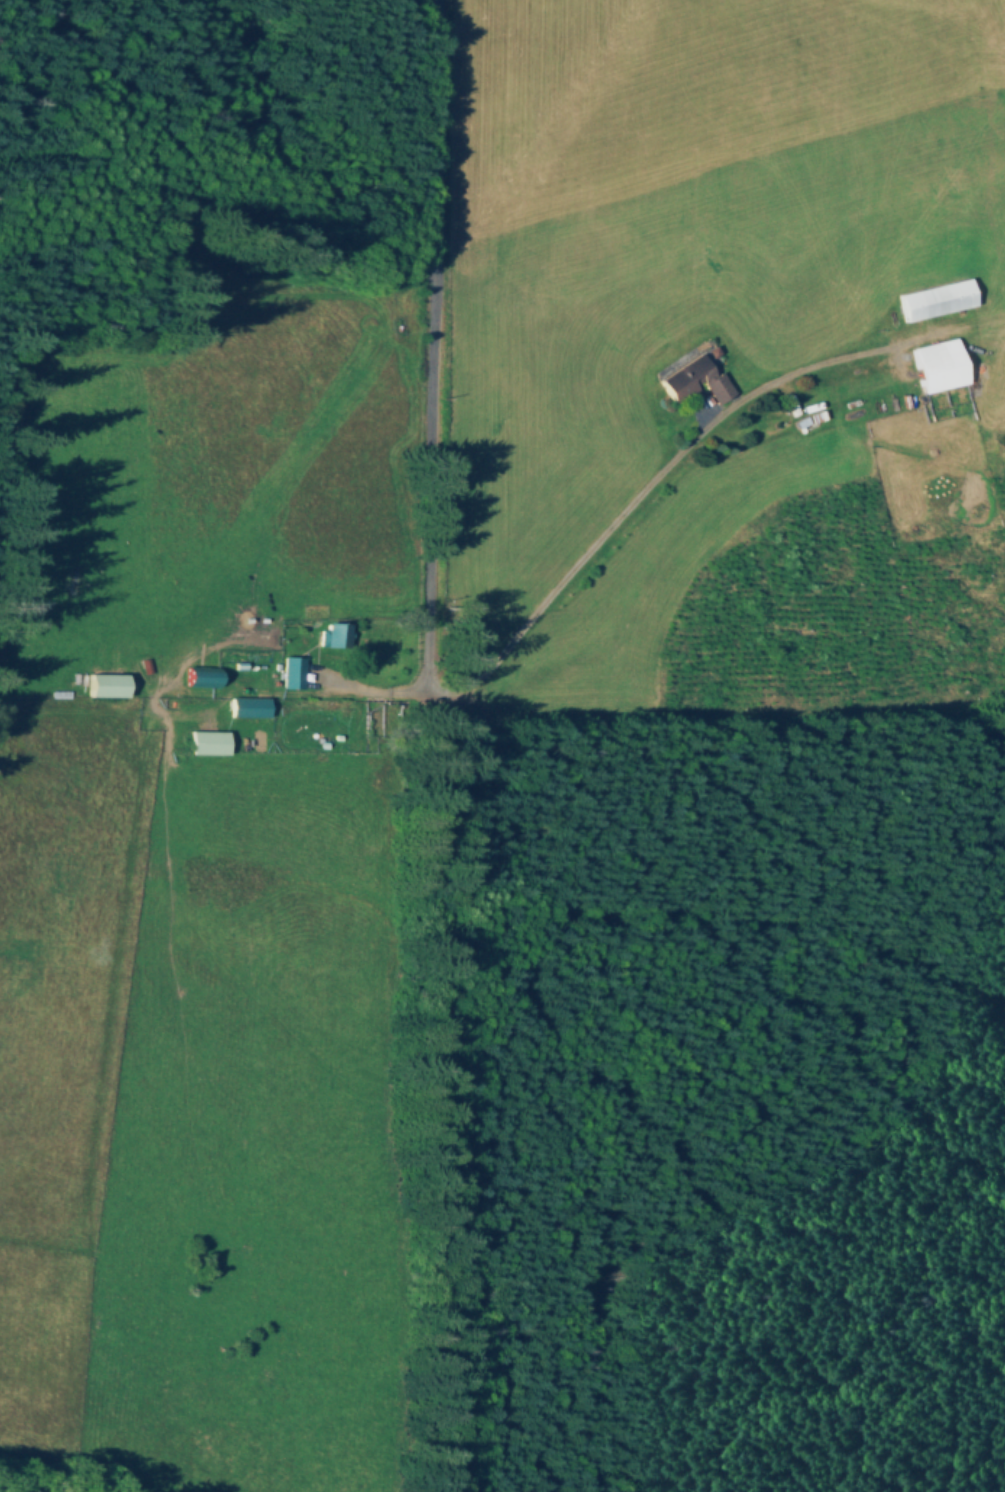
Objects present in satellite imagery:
building: (934, 301)
building: (936, 367)
building: (690, 382)
road: (634, 500)
building: (329, 638)
building: (289, 675)
building: (196, 679)
building: (102, 687)
building: (245, 709)
building: (205, 744)
road: (424, 745)

